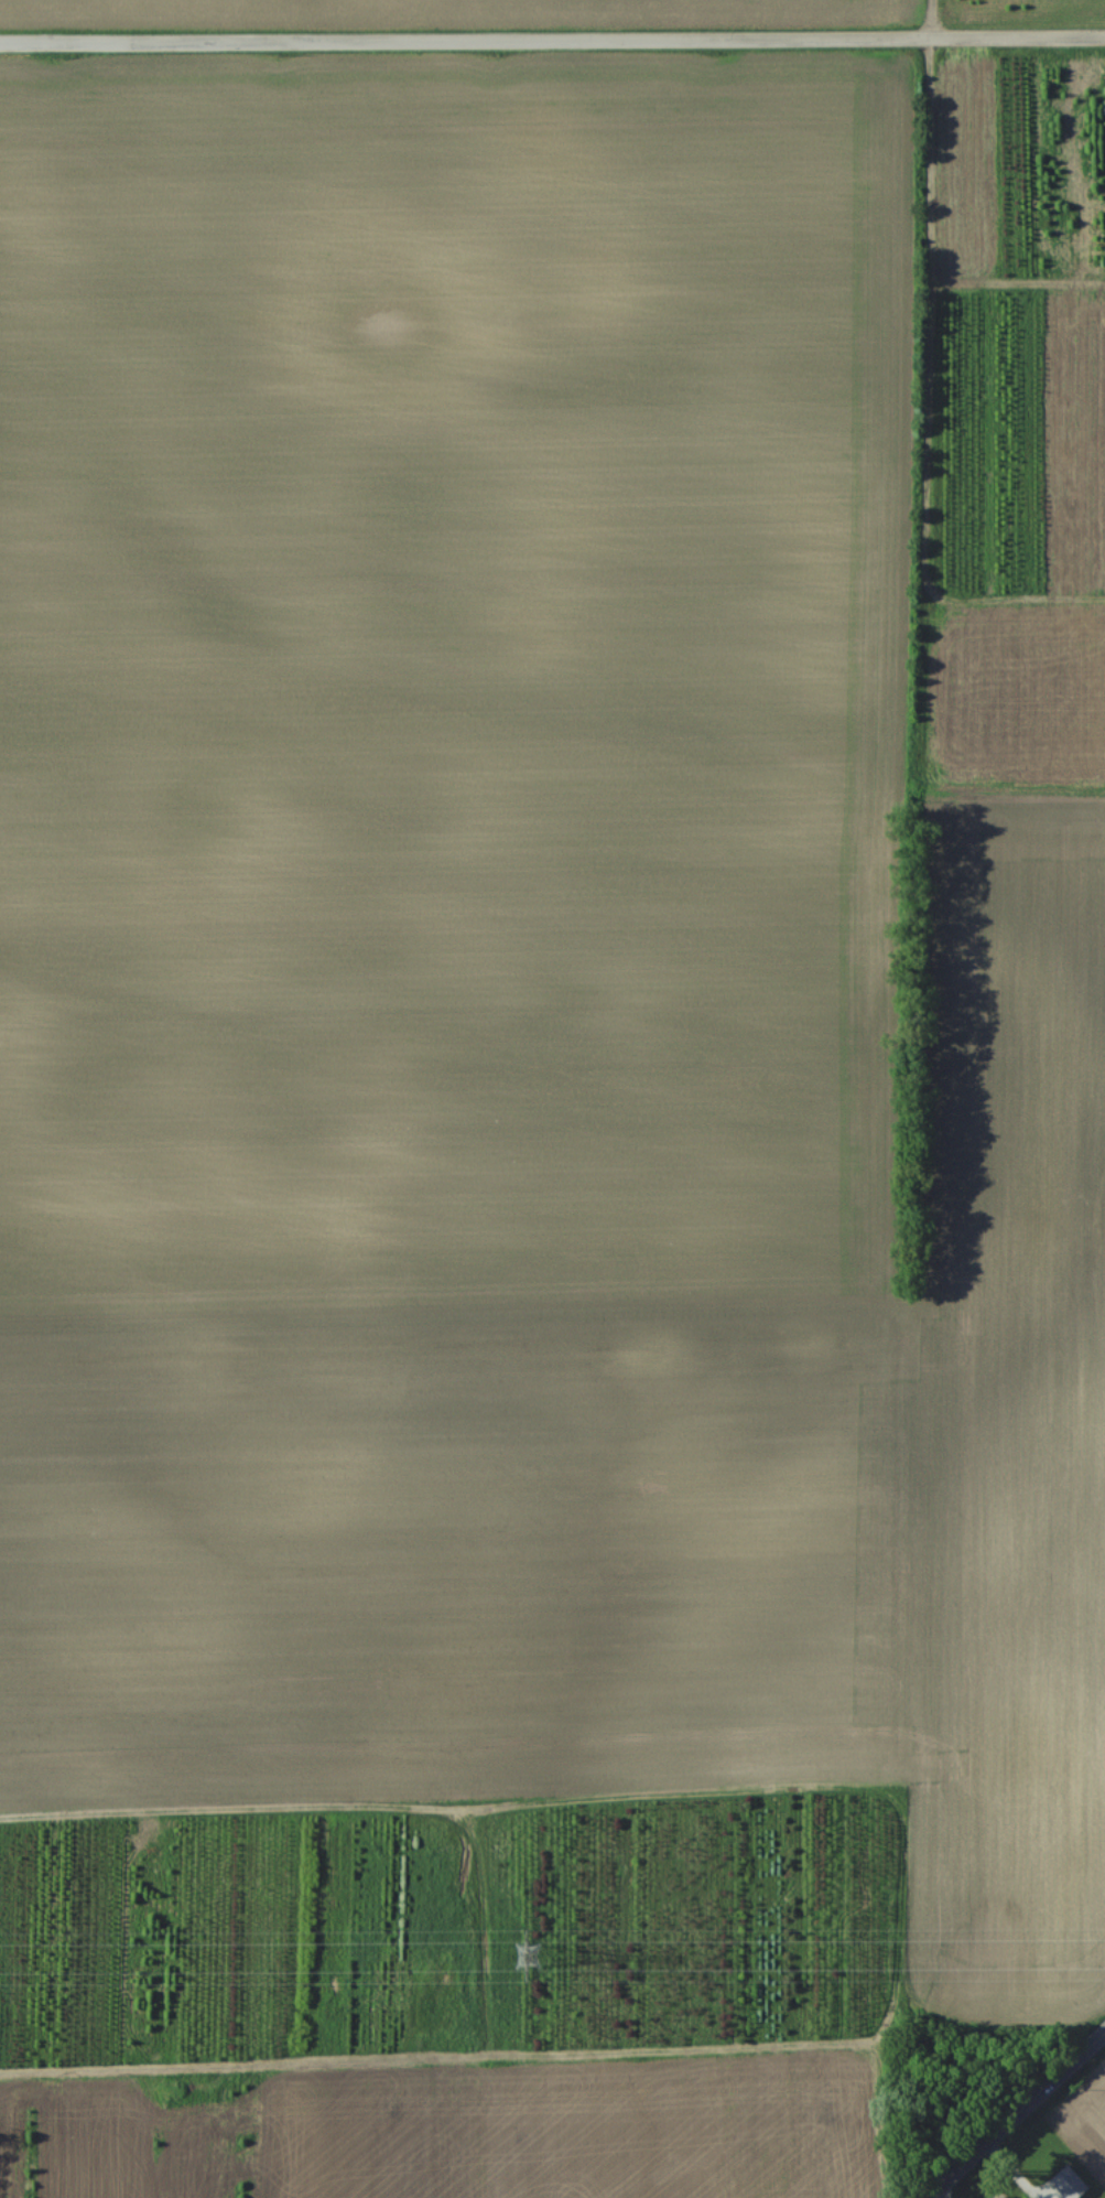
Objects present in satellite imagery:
road: (552, 39)
power tower: (527, 1955)
building: (462, 2040)
road: (1018, 2114)
building: (997, 2197)

